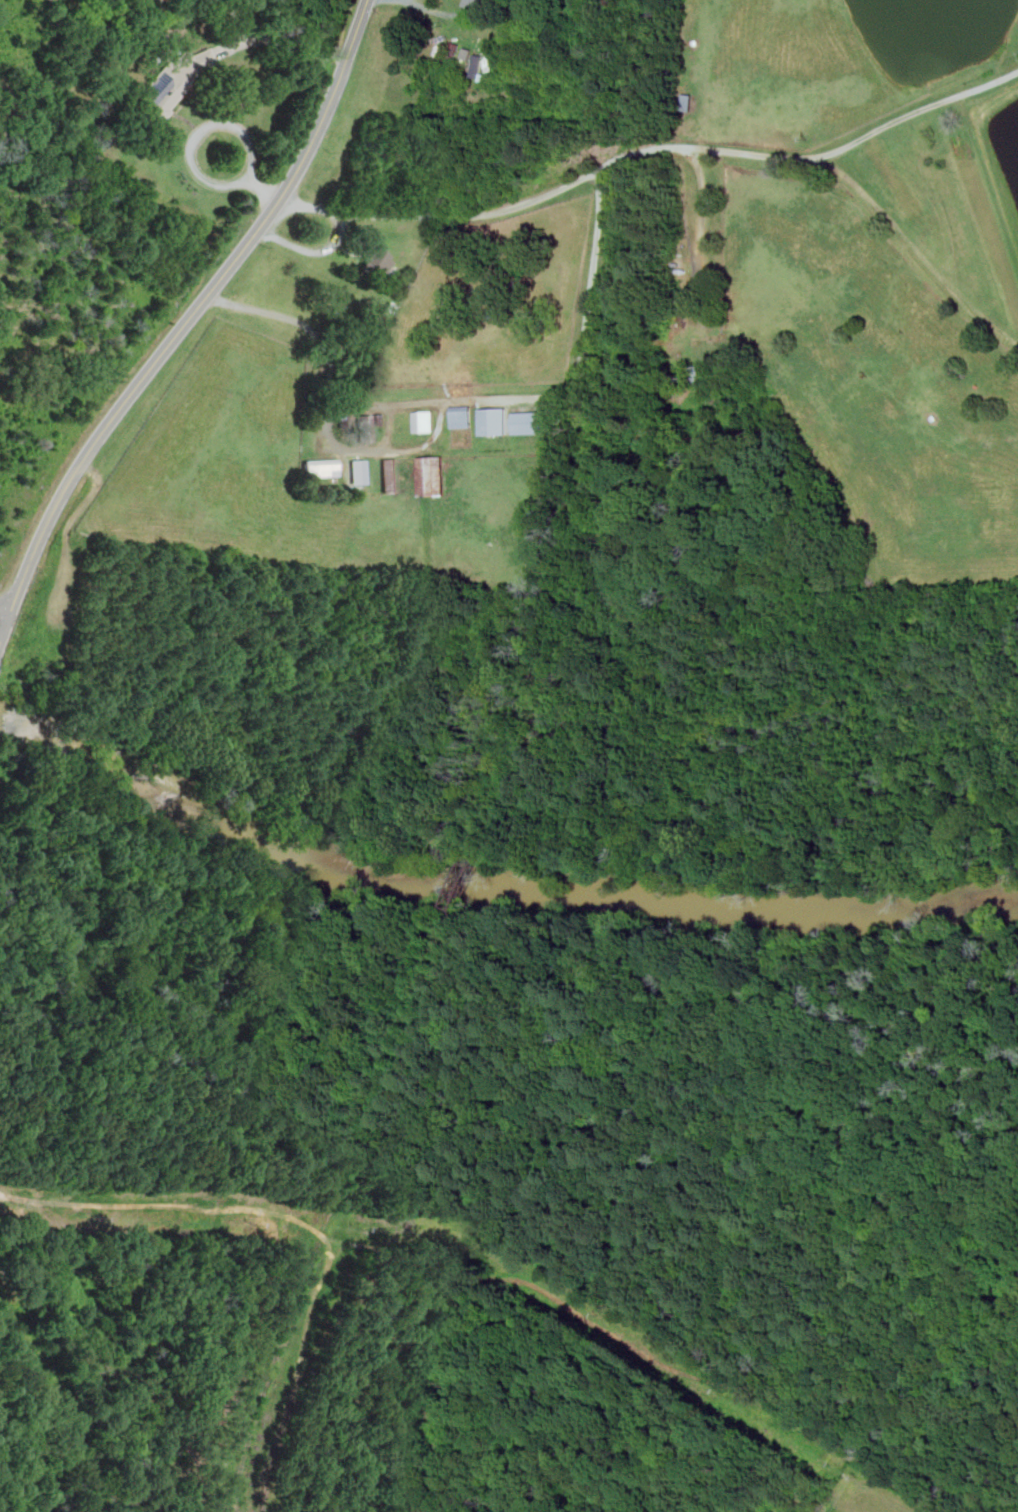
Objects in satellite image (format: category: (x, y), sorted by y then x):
building: (474, 3)
building: (476, 64)
building: (174, 80)
road: (911, 114)
road: (215, 124)
road: (606, 165)
building: (374, 263)
road: (190, 316)
building: (696, 366)
road: (478, 399)
building: (461, 416)
building: (423, 421)
building: (493, 421)
building: (527, 423)
building: (368, 425)
road: (330, 433)
building: (321, 467)
building: (358, 471)
building: (389, 474)
building: (431, 475)
road: (2, 626)
road: (2, 632)
river: (496, 883)
road: (486, 1141)
road: (306, 1223)
road: (643, 1351)

